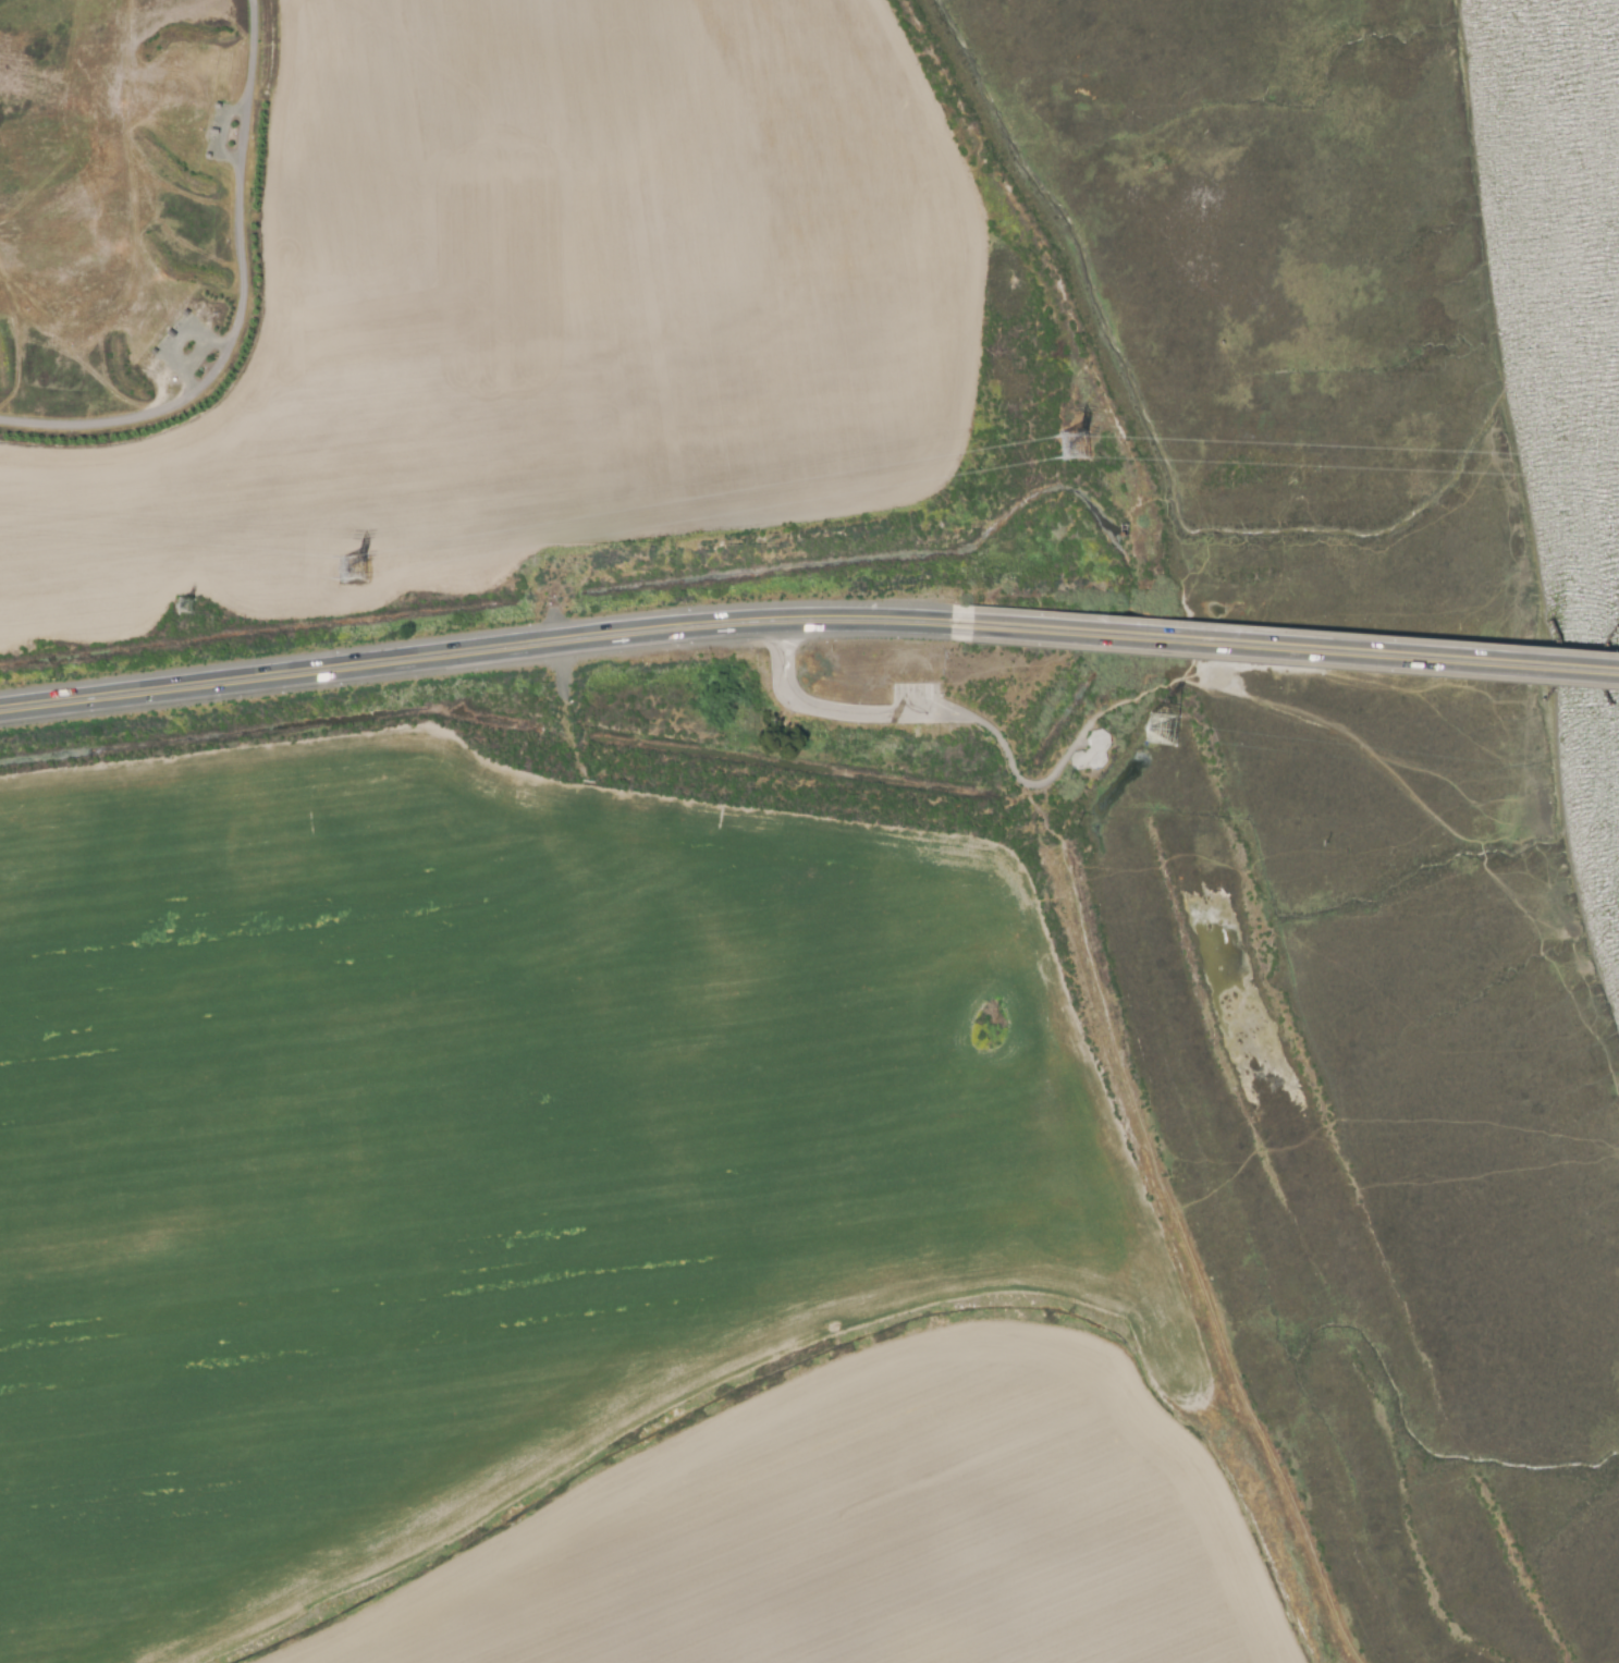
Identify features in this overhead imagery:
road: (244, 304)
power tower: (1070, 452)
power tower: (352, 576)
power tower: (183, 613)
road: (1285, 639)
road: (475, 648)
road: (1285, 655)
road: (474, 663)
parking lot: (907, 702)
road: (932, 718)
power tower: (1163, 730)

